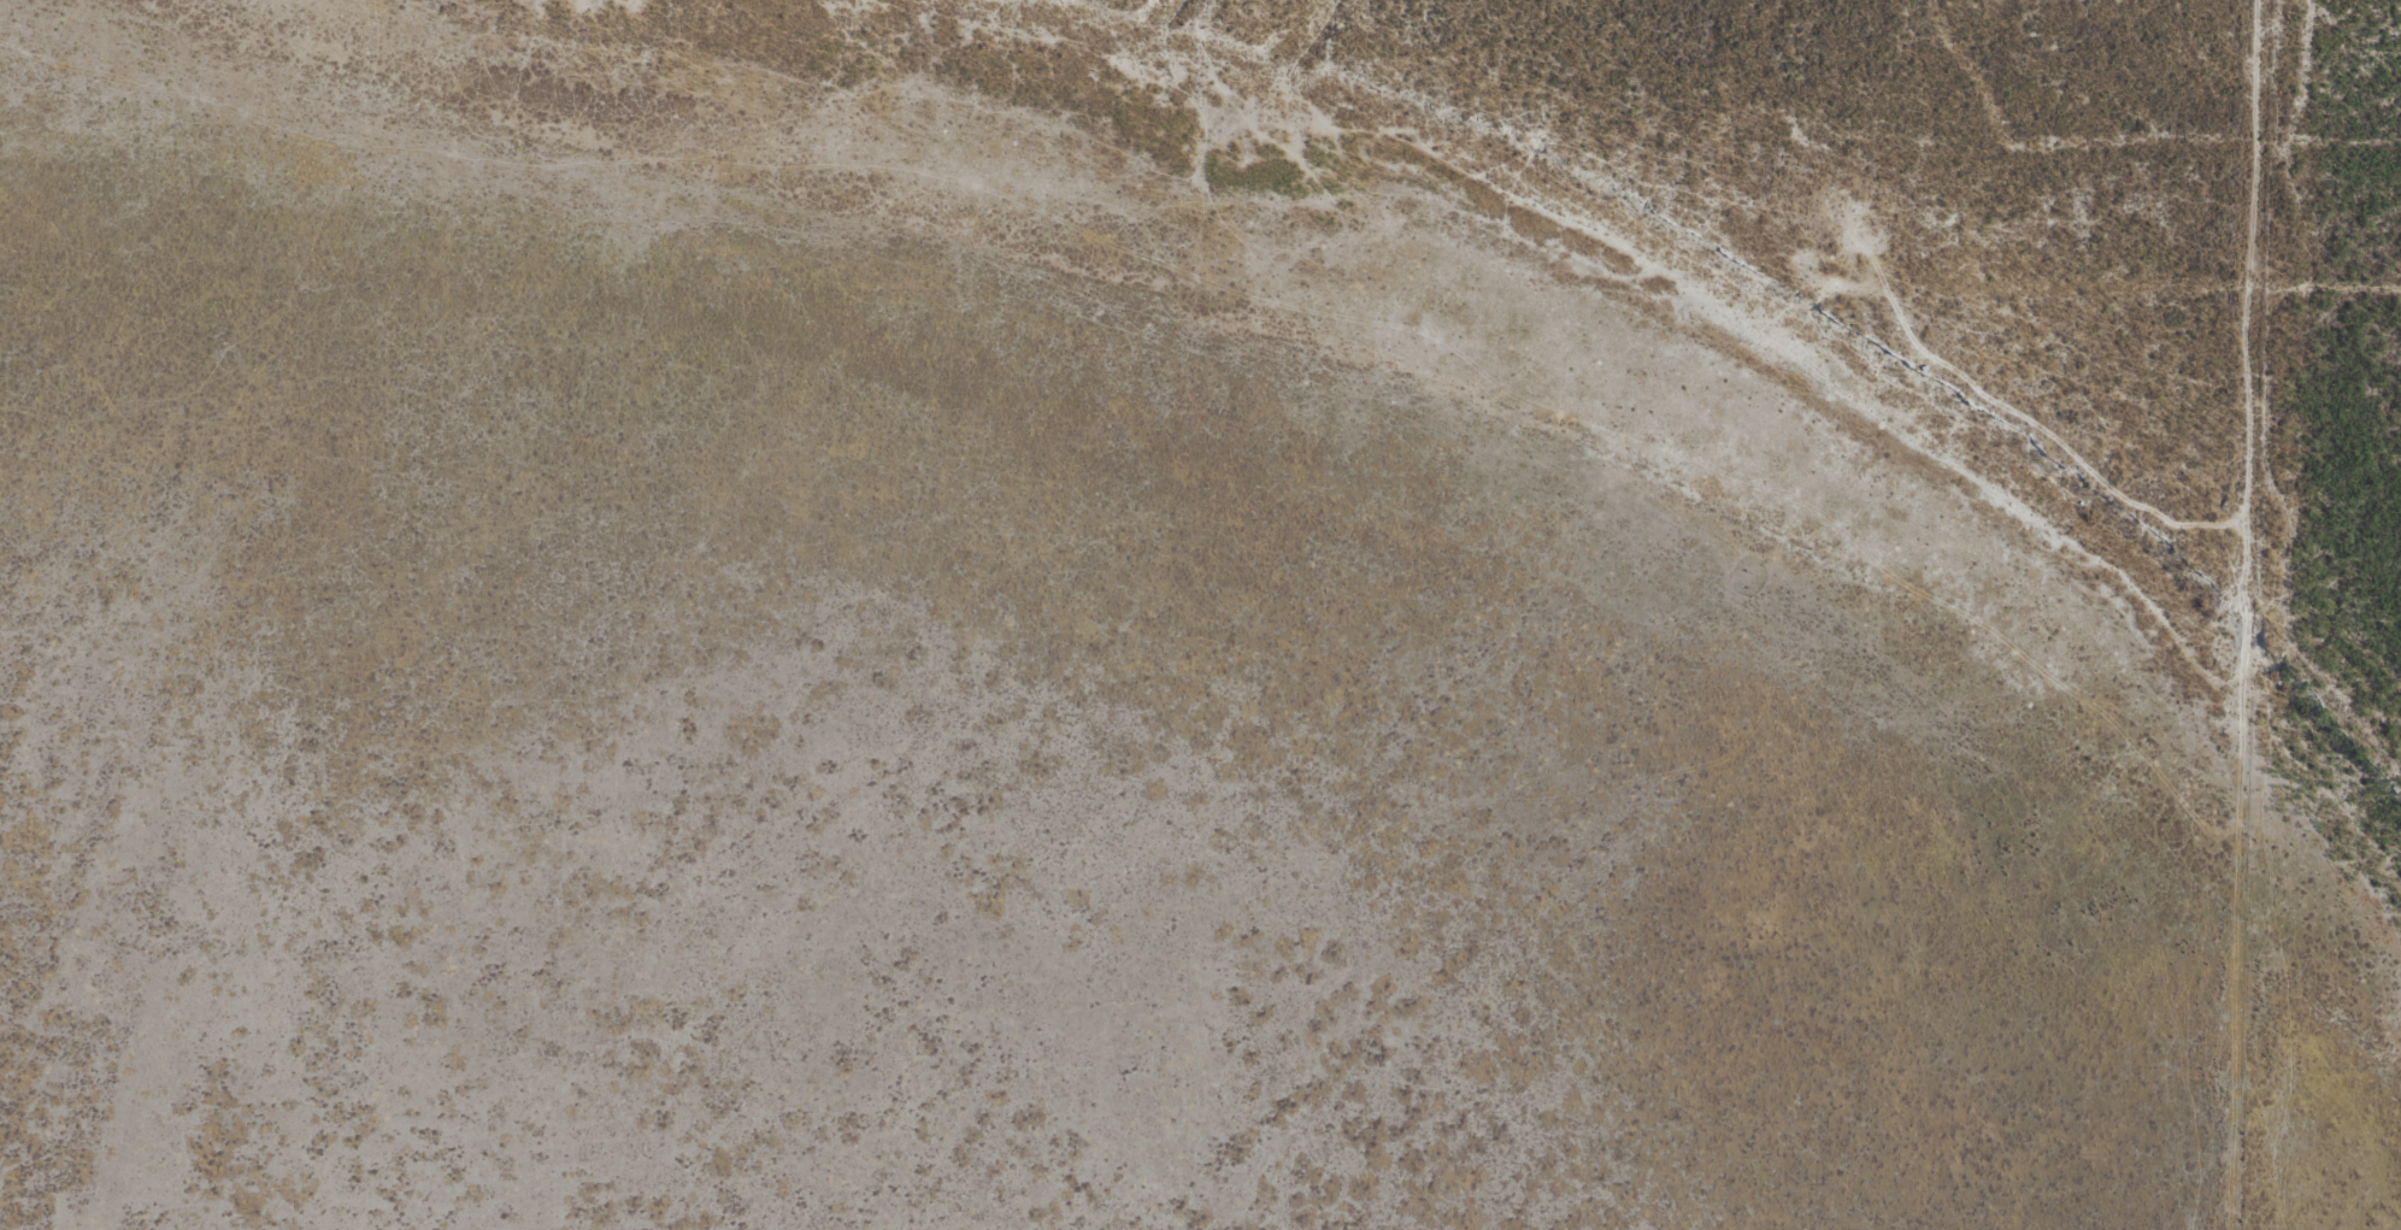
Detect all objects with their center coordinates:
road: (2168, 276)

